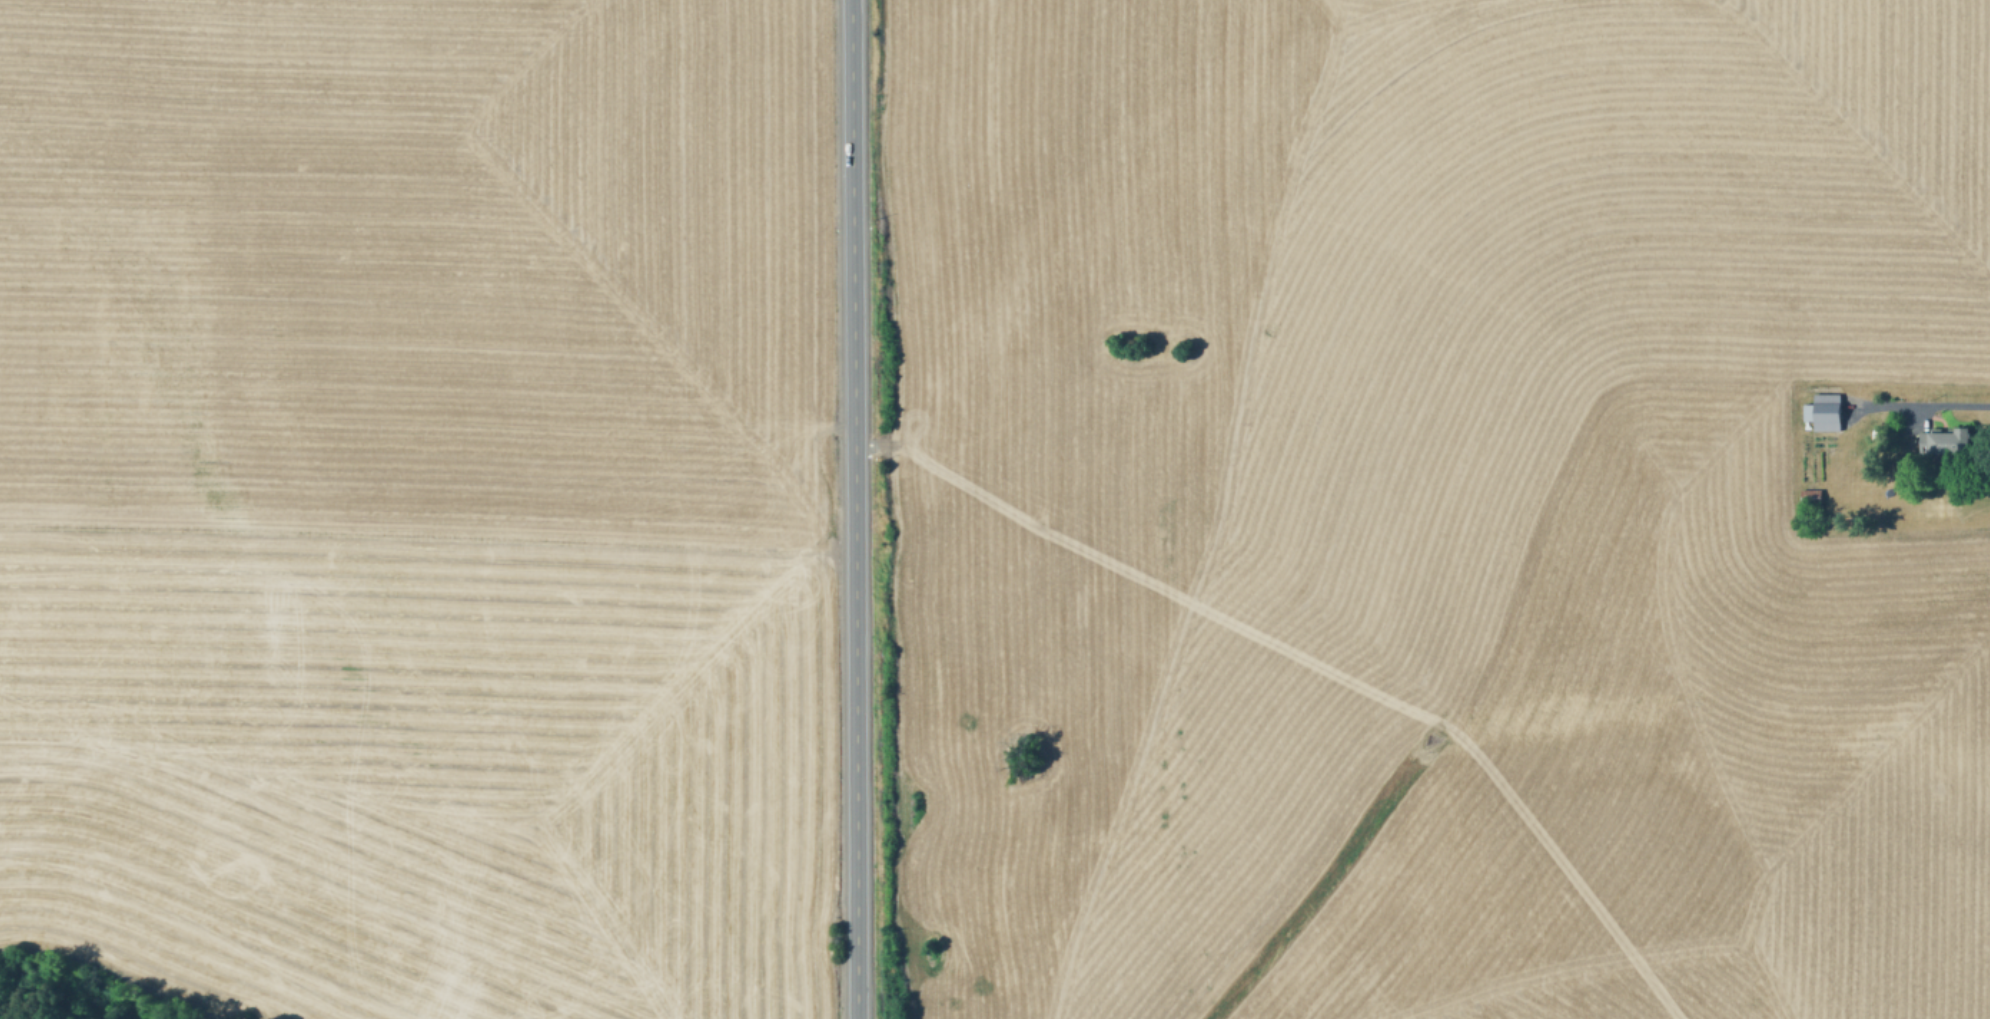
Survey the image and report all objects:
road: (1957, 404)
building: (1826, 413)
building: (1948, 443)
building: (1812, 498)
crop: (420, 499)
road: (851, 509)
crop: (1427, 510)
building: (1847, 515)

